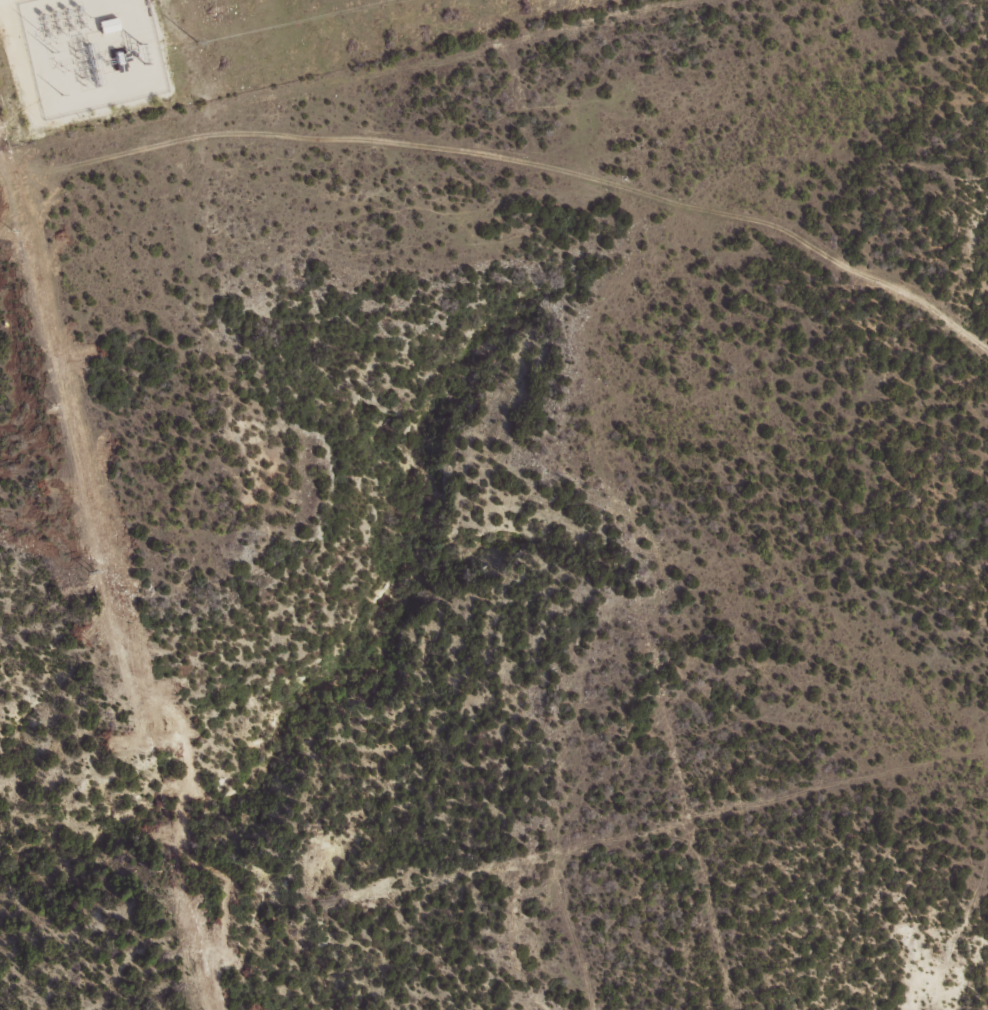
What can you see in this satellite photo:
power tower: (195, 40)
power substation: (90, 53)
power tower: (140, 54)

